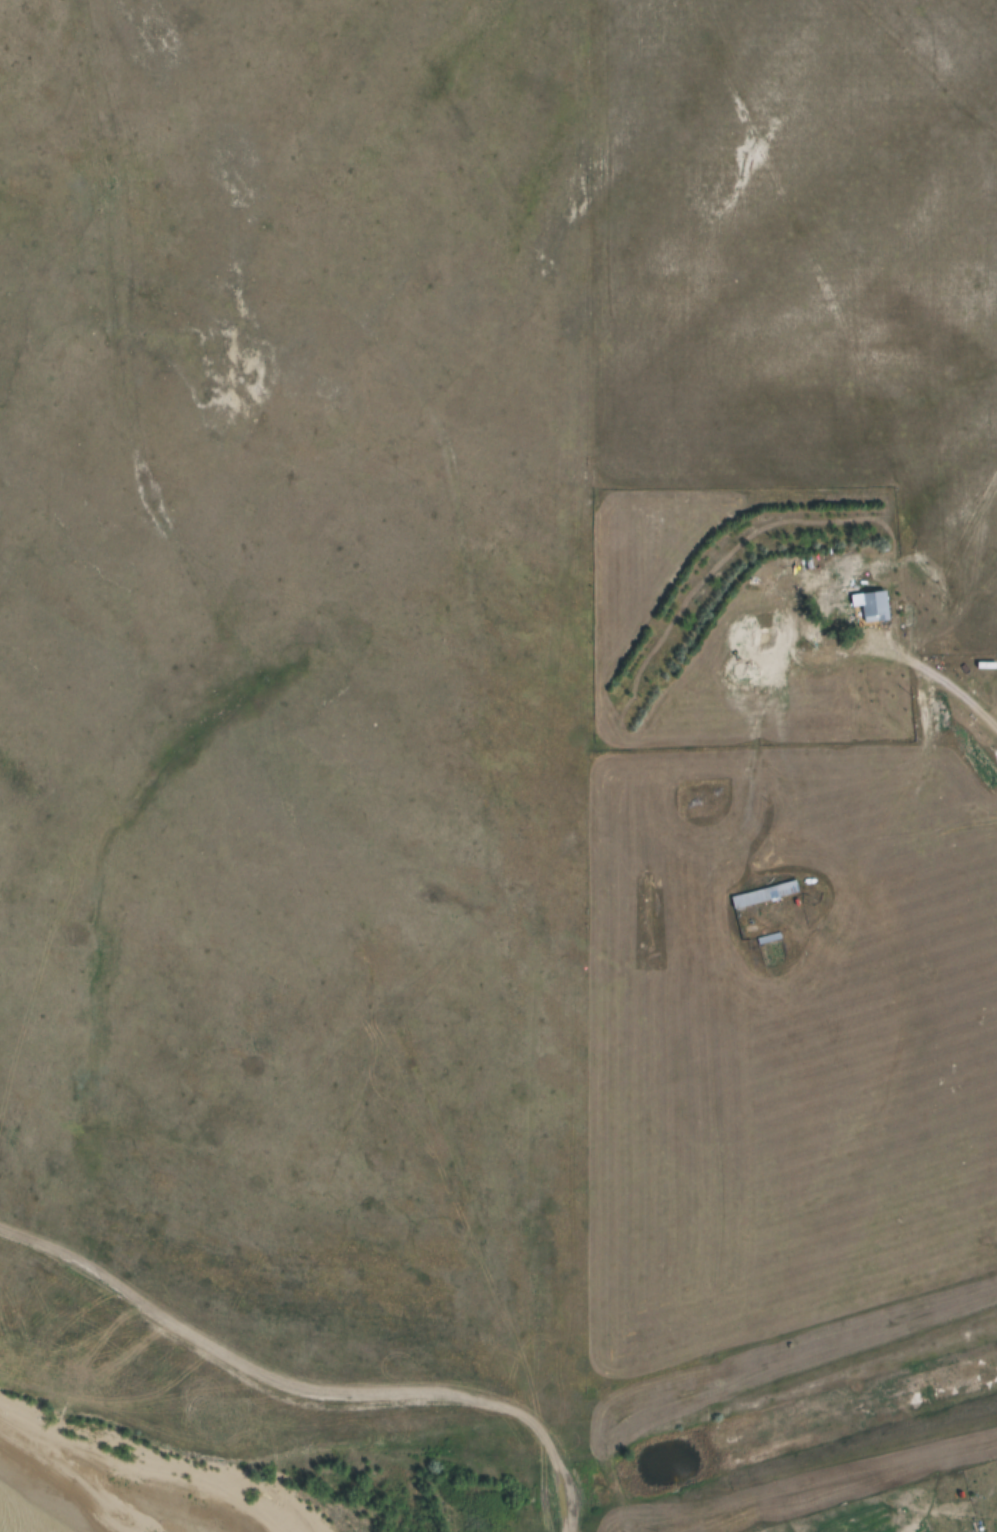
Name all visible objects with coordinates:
building: (871, 607)
building: (698, 796)
building: (762, 895)

